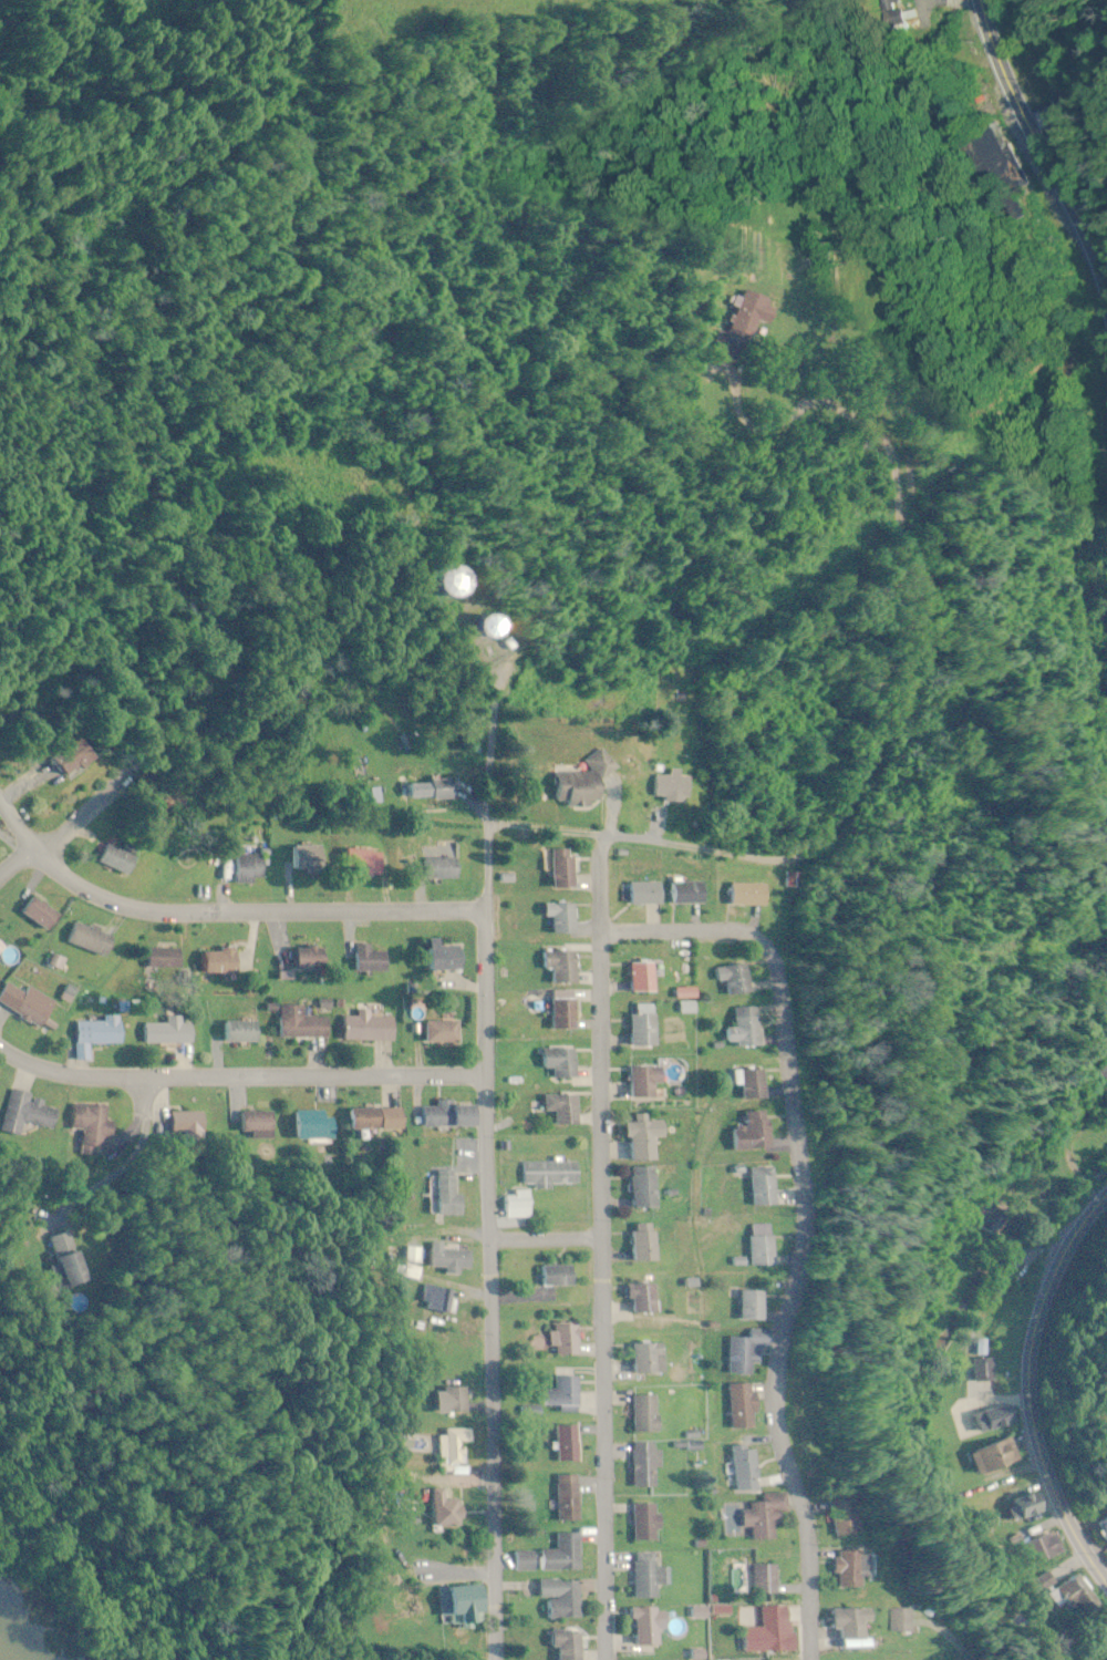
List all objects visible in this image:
building: (1052, 116)
road: (1044, 149)
building: (759, 309)
building: (466, 581)
building: (498, 631)
road: (876, 736)
building: (75, 757)
building: (676, 787)
building: (426, 790)
building: (581, 790)
road: (92, 806)
building: (307, 858)
building: (118, 859)
road: (18, 863)
building: (442, 868)
building: (242, 869)
building: (566, 869)
building: (798, 880)
building: (690, 894)
building: (643, 895)
building: (753, 896)
building: (42, 914)
road: (252, 915)
building: (566, 919)
road: (673, 934)
building: (93, 939)
building: (1, 946)
building: (448, 955)
building: (165, 958)
building: (311, 959)
building: (220, 961)
building: (373, 961)
building: (562, 967)
building: (643, 977)
building: (742, 980)
building: (8, 993)
building: (34, 1011)
building: (567, 1011)
building: (301, 1024)
building: (644, 1027)
building: (369, 1029)
building: (751, 1029)
building: (169, 1031)
building: (240, 1032)
building: (443, 1032)
building: (97, 1034)
building: (563, 1063)
road: (240, 1079)
building: (648, 1082)
building: (758, 1084)
building: (29, 1113)
building: (451, 1115)
building: (375, 1118)
building: (187, 1125)
building: (258, 1125)
building: (312, 1125)
building: (92, 1128)
building: (759, 1133)
building: (648, 1140)
building: (550, 1175)
building: (770, 1187)
building: (648, 1188)
building: (447, 1195)
building: (521, 1204)
road: (546, 1238)
building: (646, 1243)
building: (769, 1246)
road: (601, 1248)
building: (73, 1259)
building: (452, 1259)
road: (490, 1259)
building: (560, 1277)
road: (807, 1292)
building: (438, 1299)
building: (648, 1299)
building: (567, 1341)
building: (753, 1351)
building: (650, 1359)
road: (1028, 1388)
building: (568, 1393)
building: (456, 1400)
building: (747, 1406)
building: (648, 1414)
building: (568, 1444)
building: (453, 1452)
building: (996, 1457)
building: (648, 1465)
building: (748, 1471)
building: (569, 1499)
building: (1030, 1507)
building: (446, 1509)
building: (769, 1516)
building: (858, 1518)
building: (650, 1523)
building: (1104, 1530)
building: (551, 1558)
building: (861, 1569)
building: (649, 1577)
building: (767, 1580)
building: (1076, 1598)
building: (563, 1599)
building: (469, 1606)
building: (907, 1622)
building: (858, 1625)
building: (653, 1627)
building: (775, 1632)
building: (569, 1644)
river: (15, 1646)

